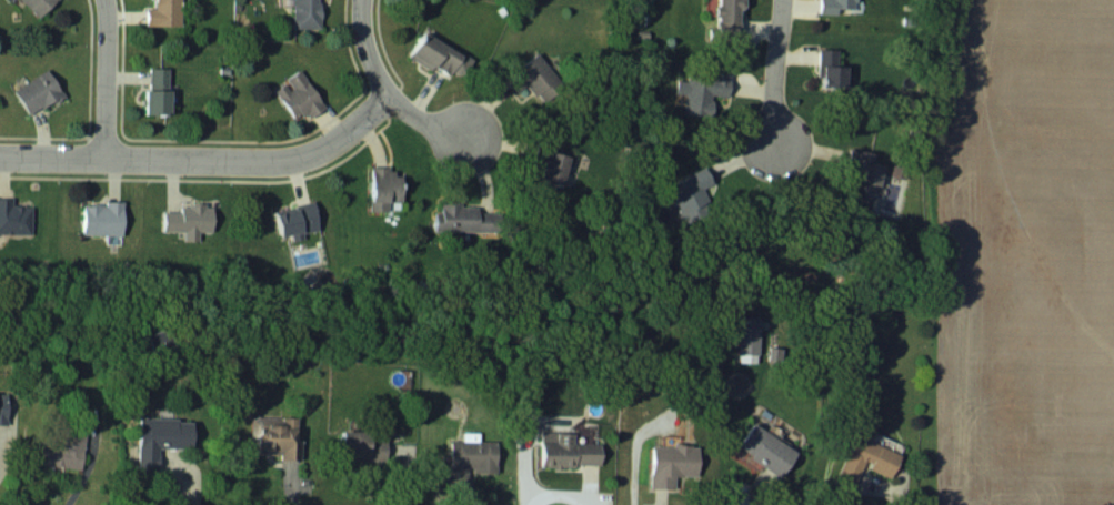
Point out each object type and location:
building: (41, 6)
building: (840, 6)
building: (165, 12)
building: (309, 13)
building: (731, 19)
building: (439, 53)
building: (835, 68)
road: (776, 73)
building: (539, 77)
road: (108, 79)
building: (706, 87)
building: (160, 90)
building: (40, 91)
road: (390, 93)
building: (301, 95)
road: (205, 161)
building: (549, 166)
building: (864, 170)
building: (387, 189)
building: (692, 193)
building: (458, 216)
building: (16, 218)
building: (104, 218)
building: (191, 220)
building: (299, 220)
building: (3, 406)
building: (277, 436)
building: (163, 438)
building: (365, 445)
building: (63, 447)
building: (770, 448)
building: (571, 450)
building: (475, 455)
road: (13, 456)
building: (870, 459)
building: (675, 464)

